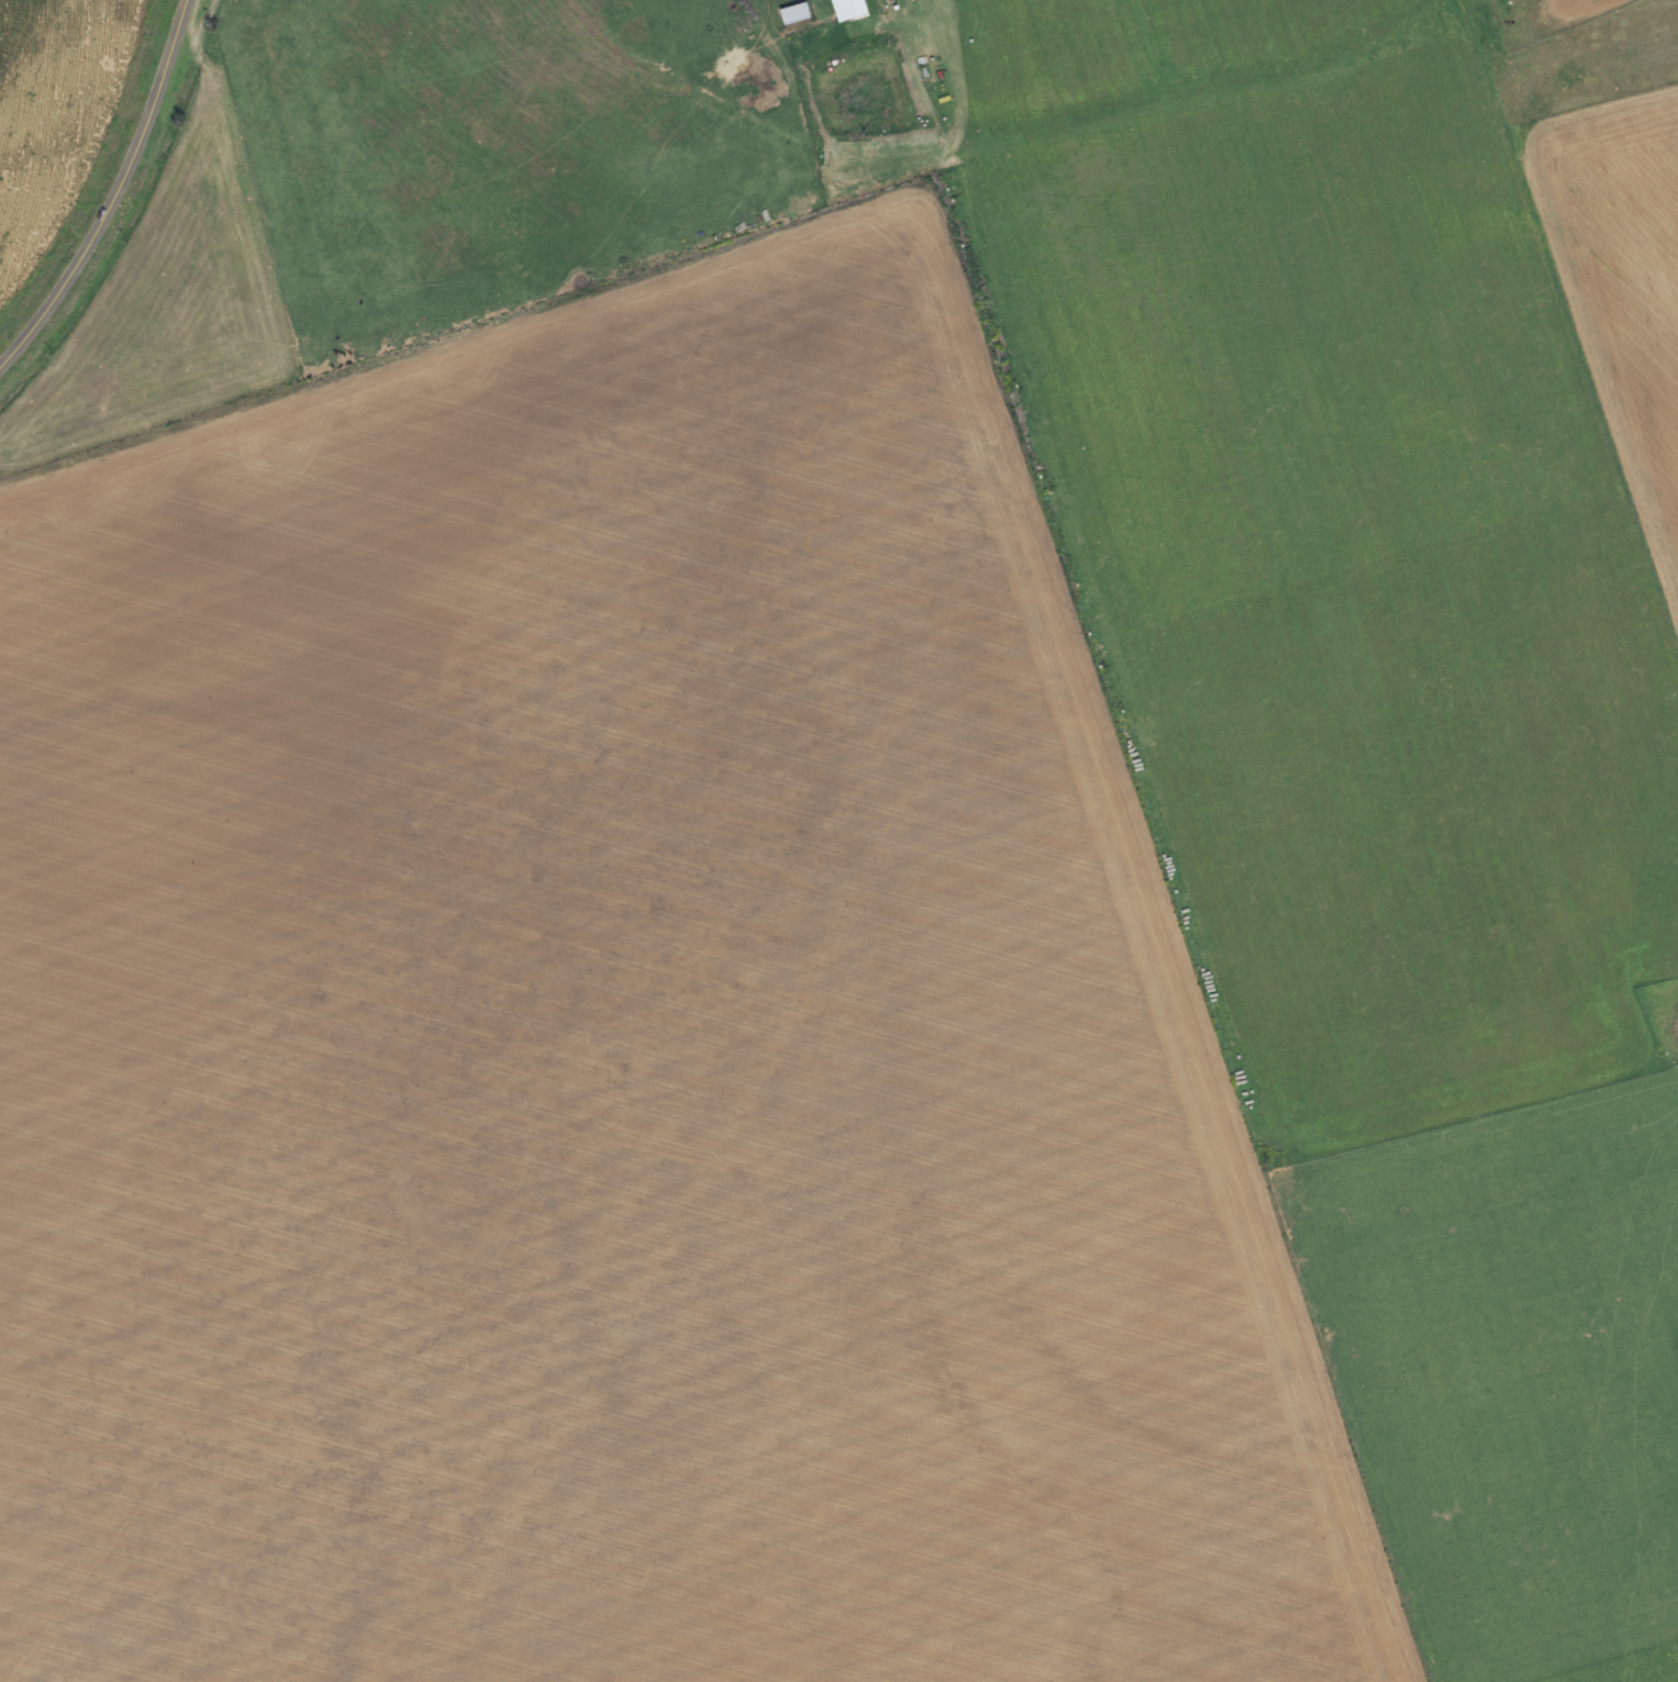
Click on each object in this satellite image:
building: (857, 8)
road: (114, 192)

